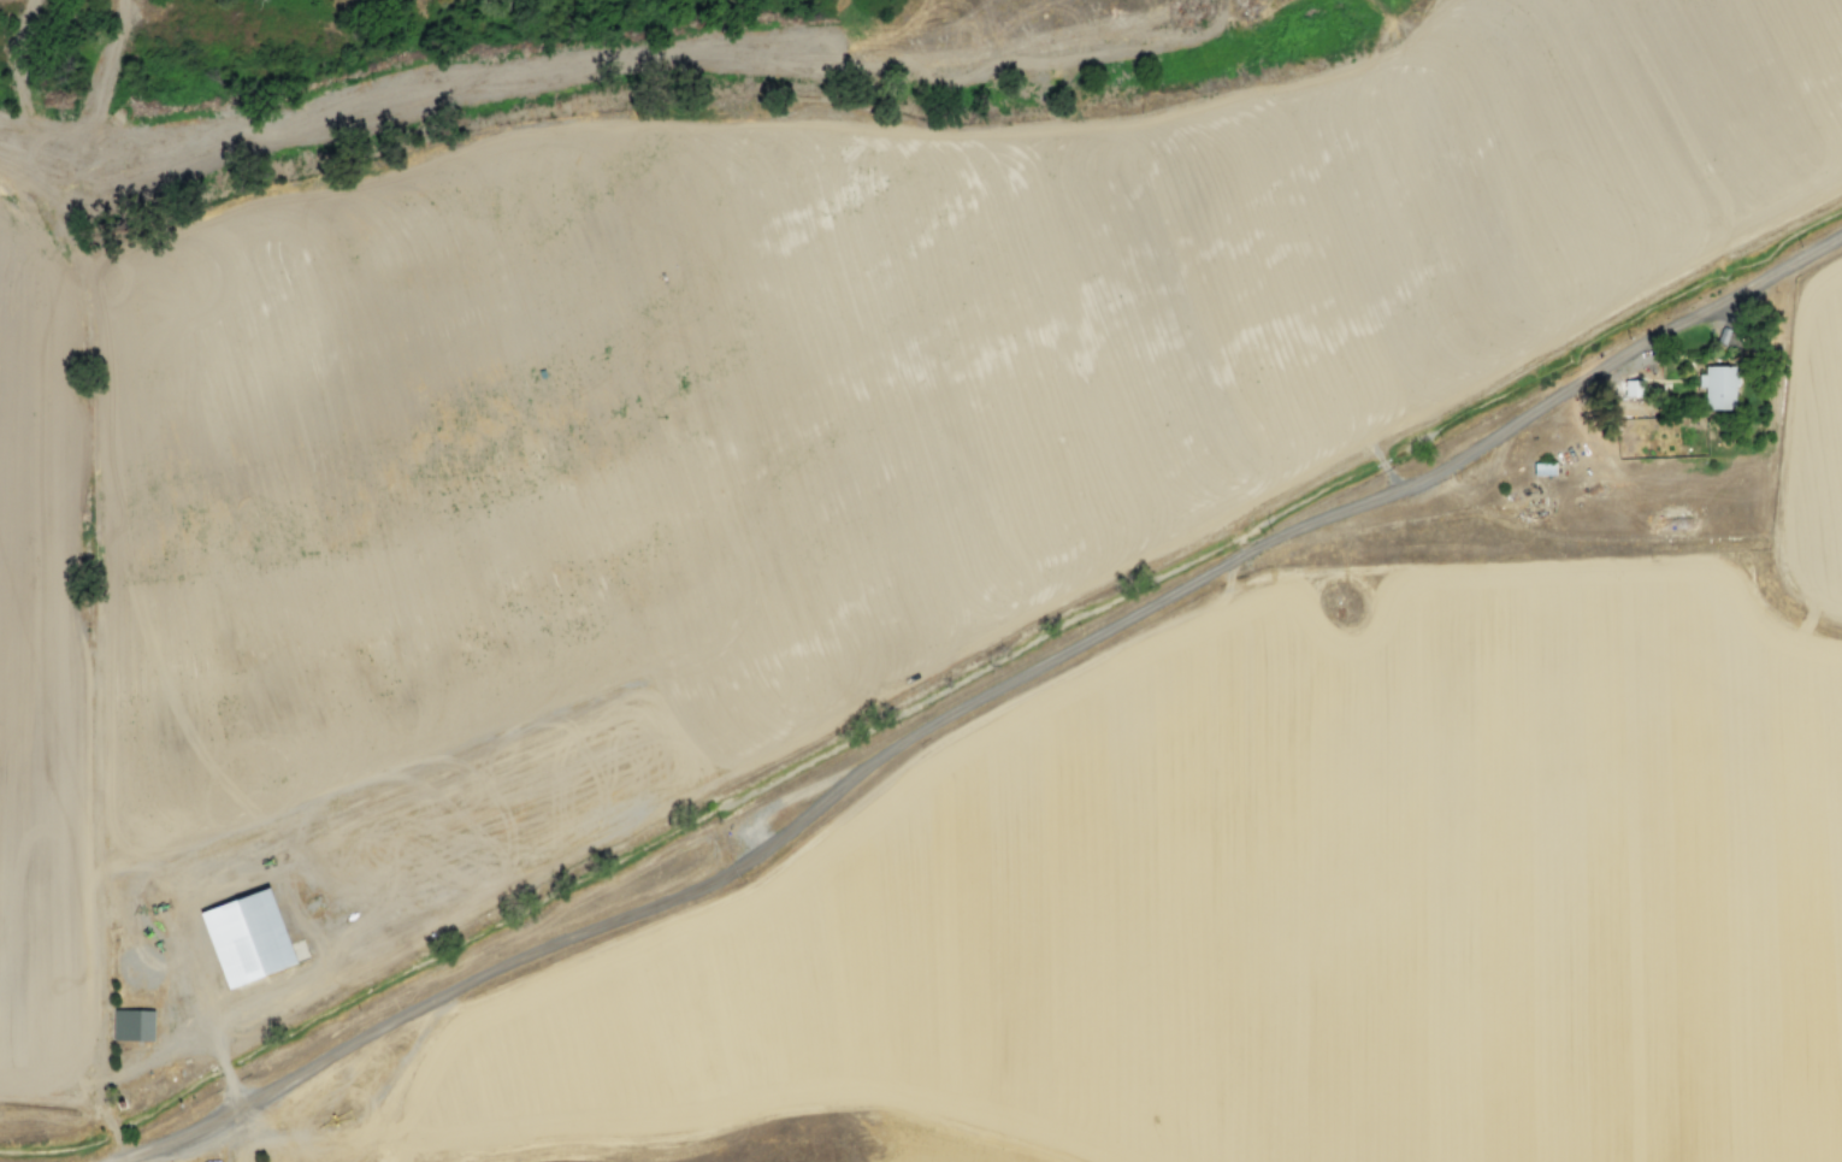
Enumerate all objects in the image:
road: (1616, 358)
building: (1714, 387)
building: (1540, 468)
road: (819, 801)
building: (238, 937)
building: (129, 1025)
road: (171, 1137)

